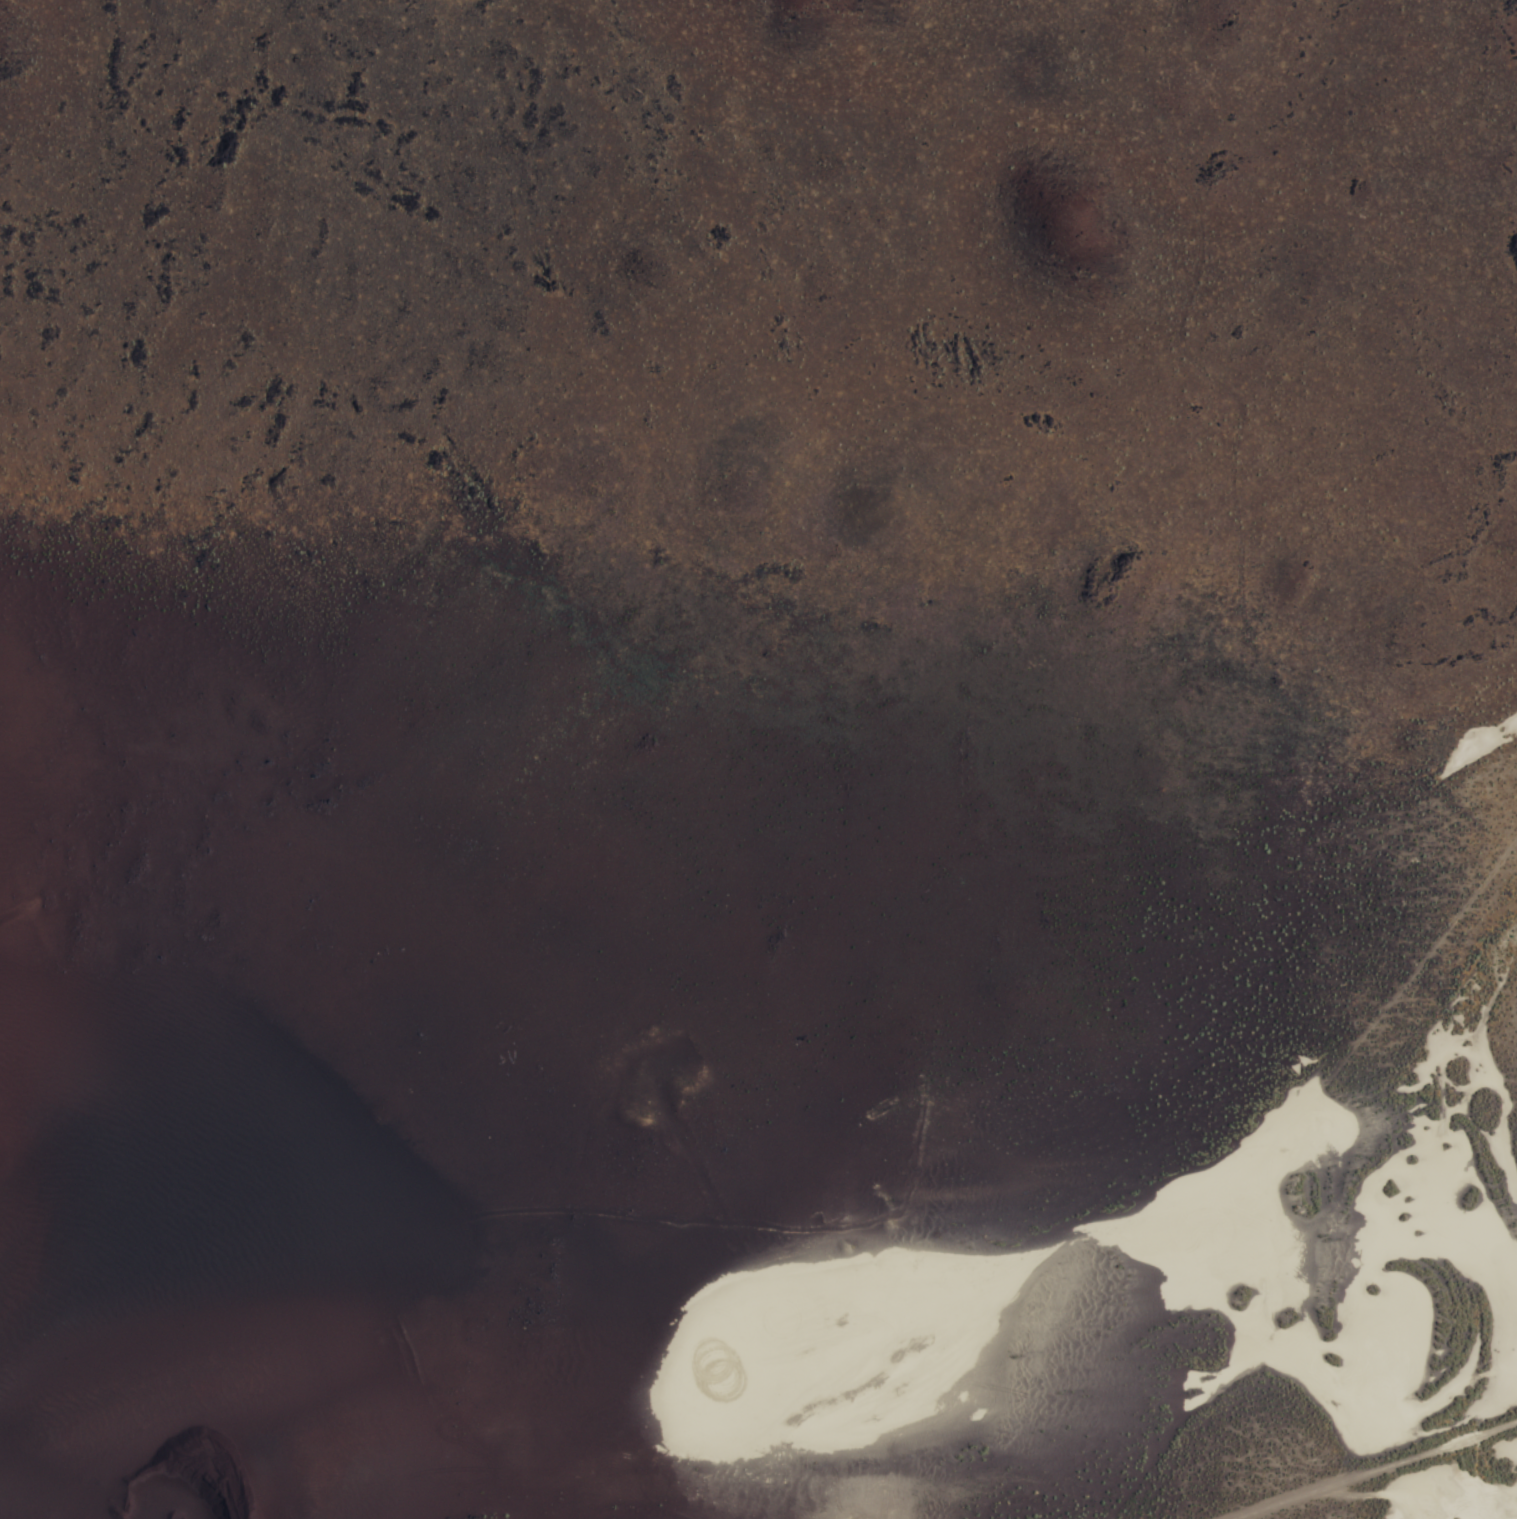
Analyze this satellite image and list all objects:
road: (1377, 1470)

